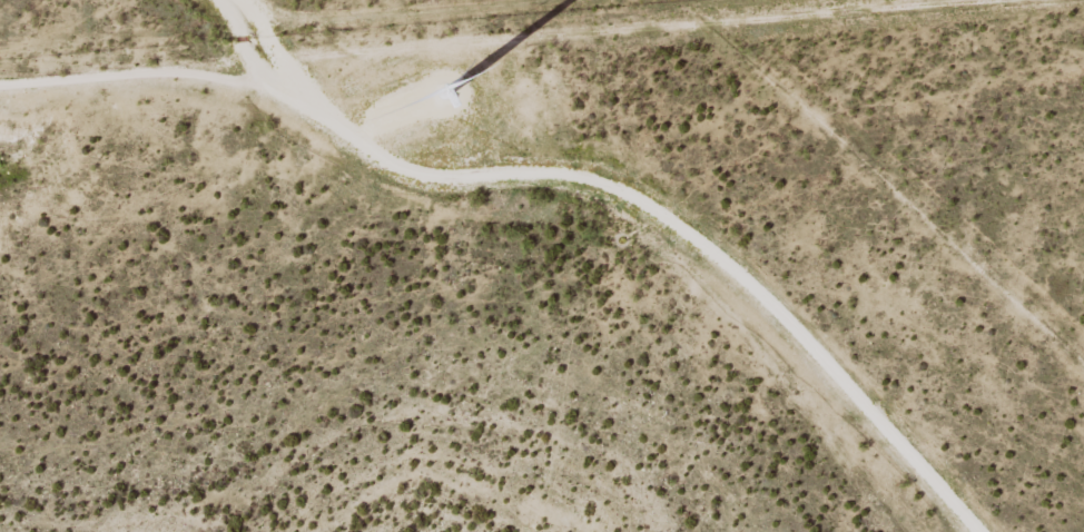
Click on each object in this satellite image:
road: (92, 2)
road: (80, 7)
wind turbine: (412, 106)

